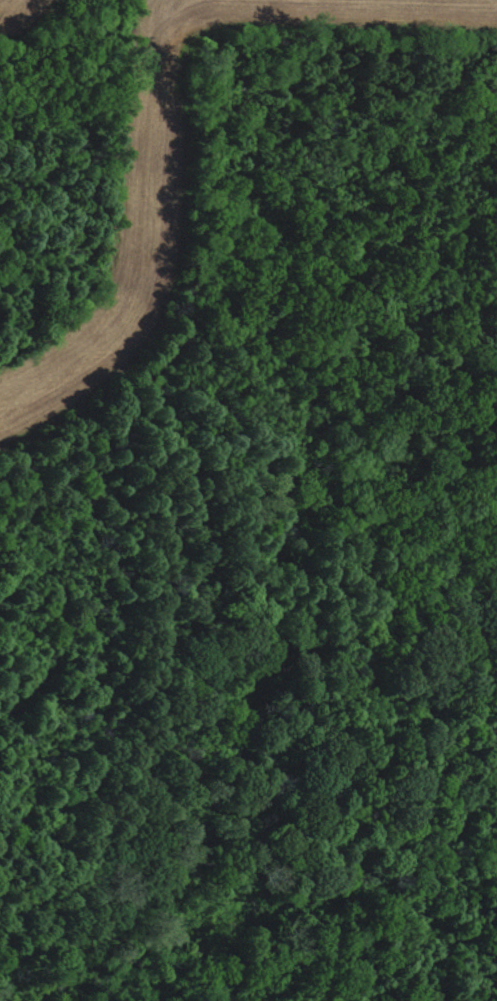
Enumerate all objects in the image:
road: (402, 837)

